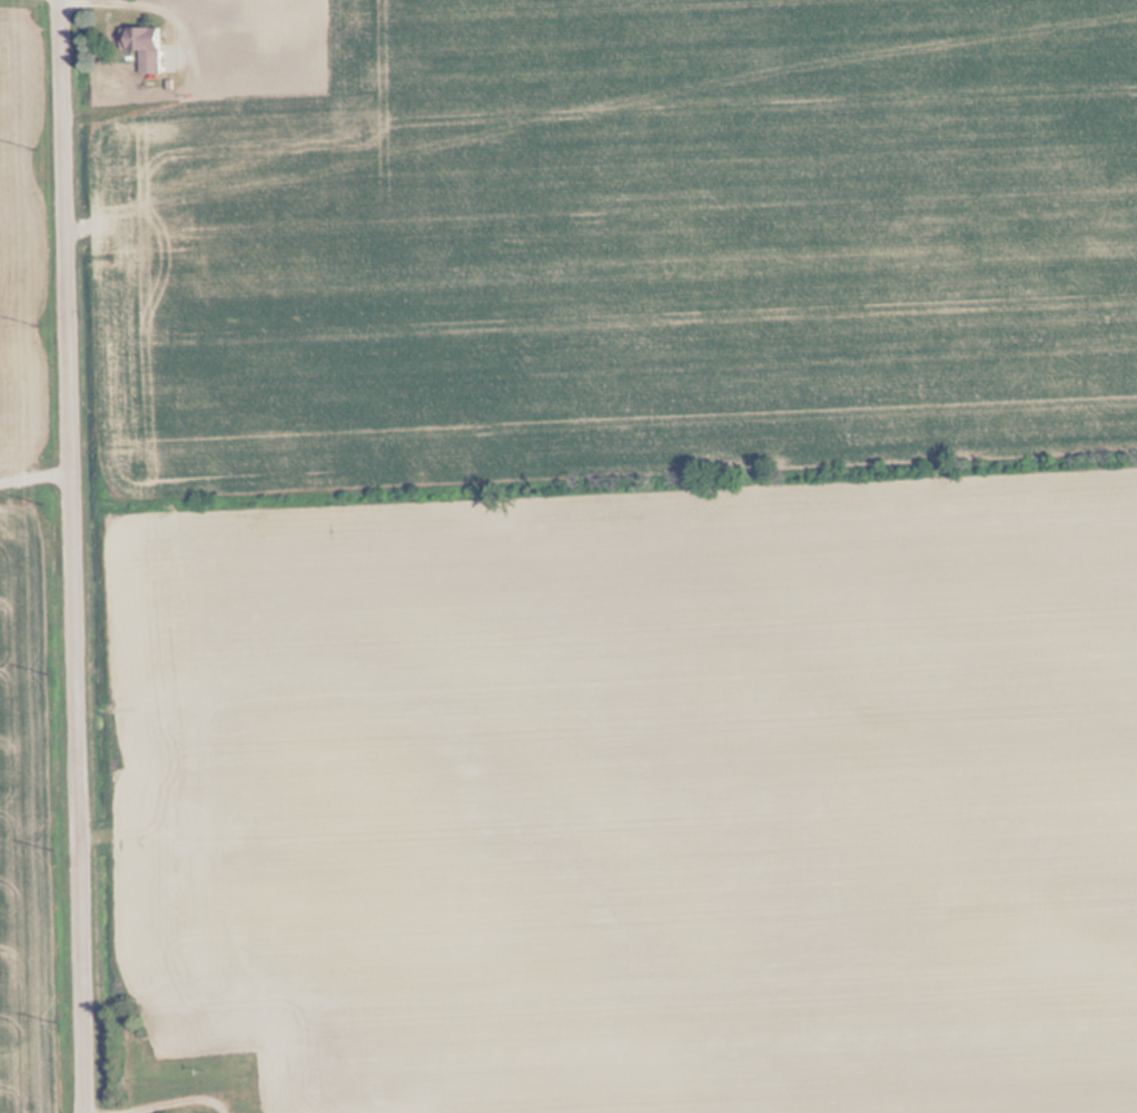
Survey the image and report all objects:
building: (139, 47)
road: (76, 556)

